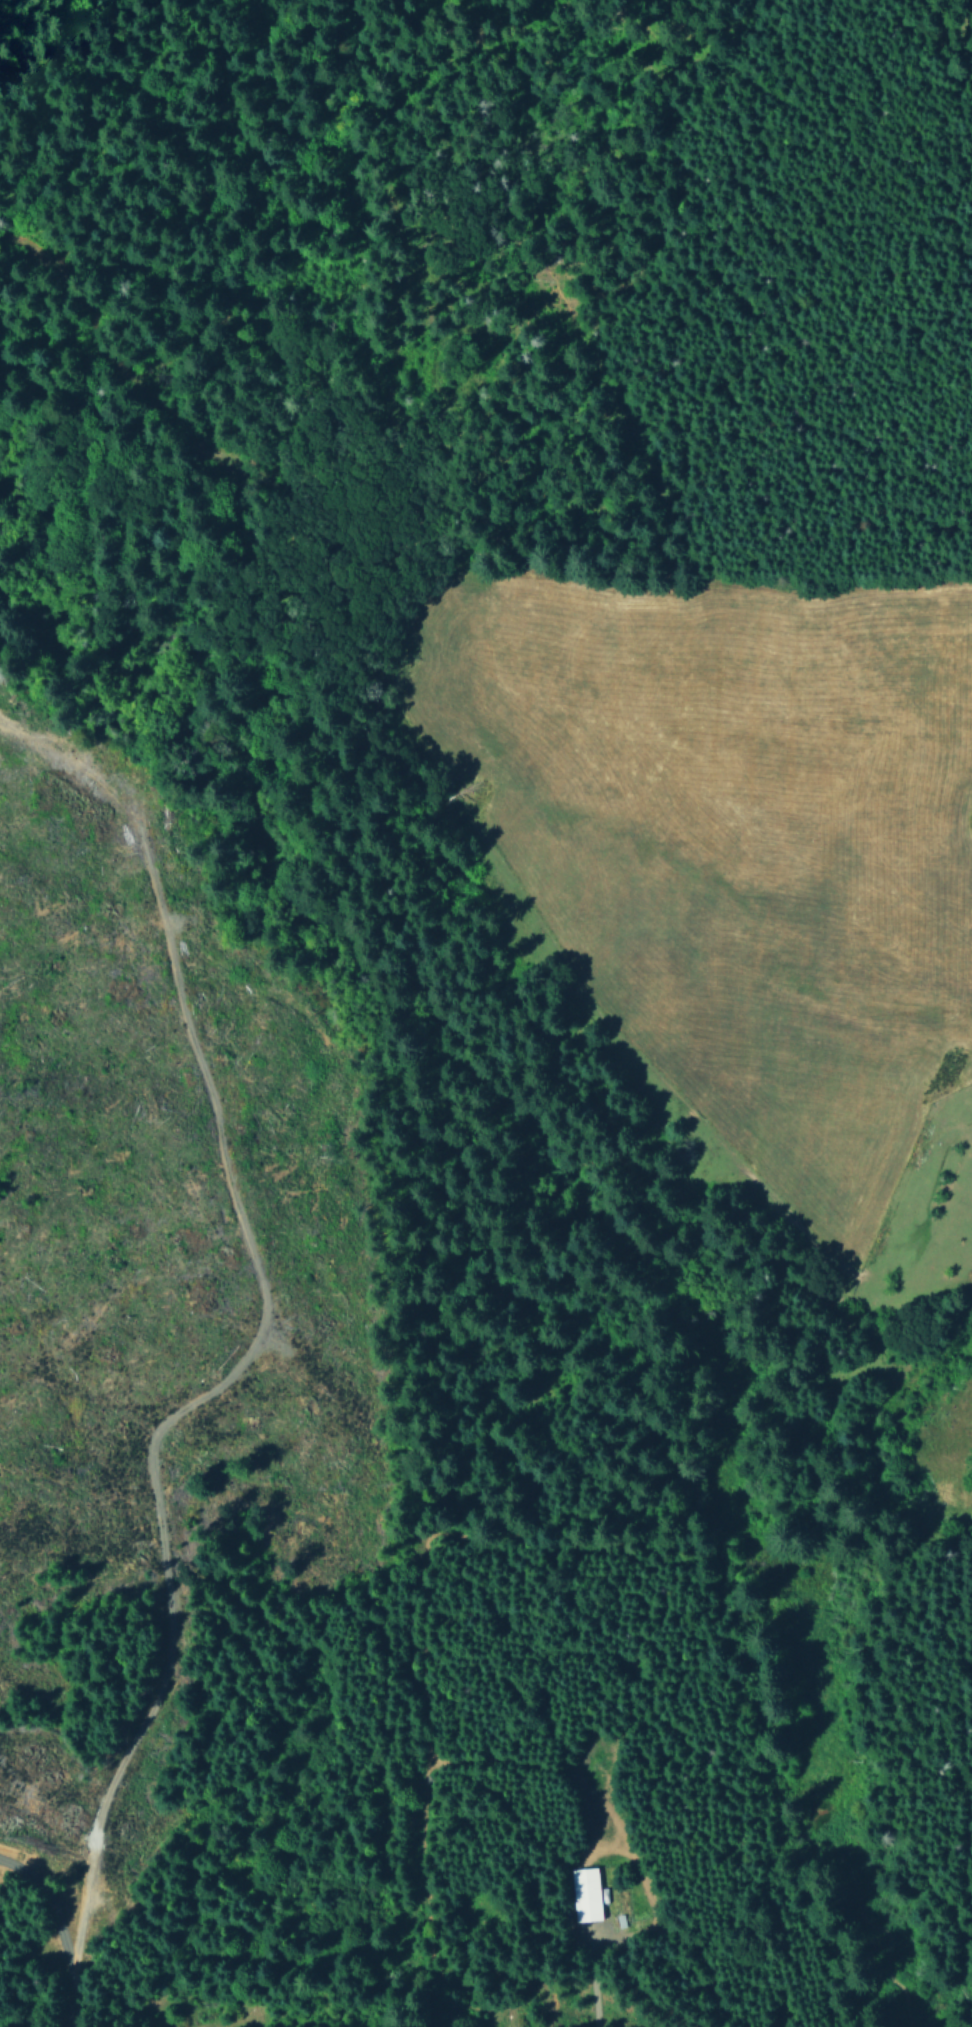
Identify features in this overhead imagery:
building: (585, 1894)
road: (70, 2011)

